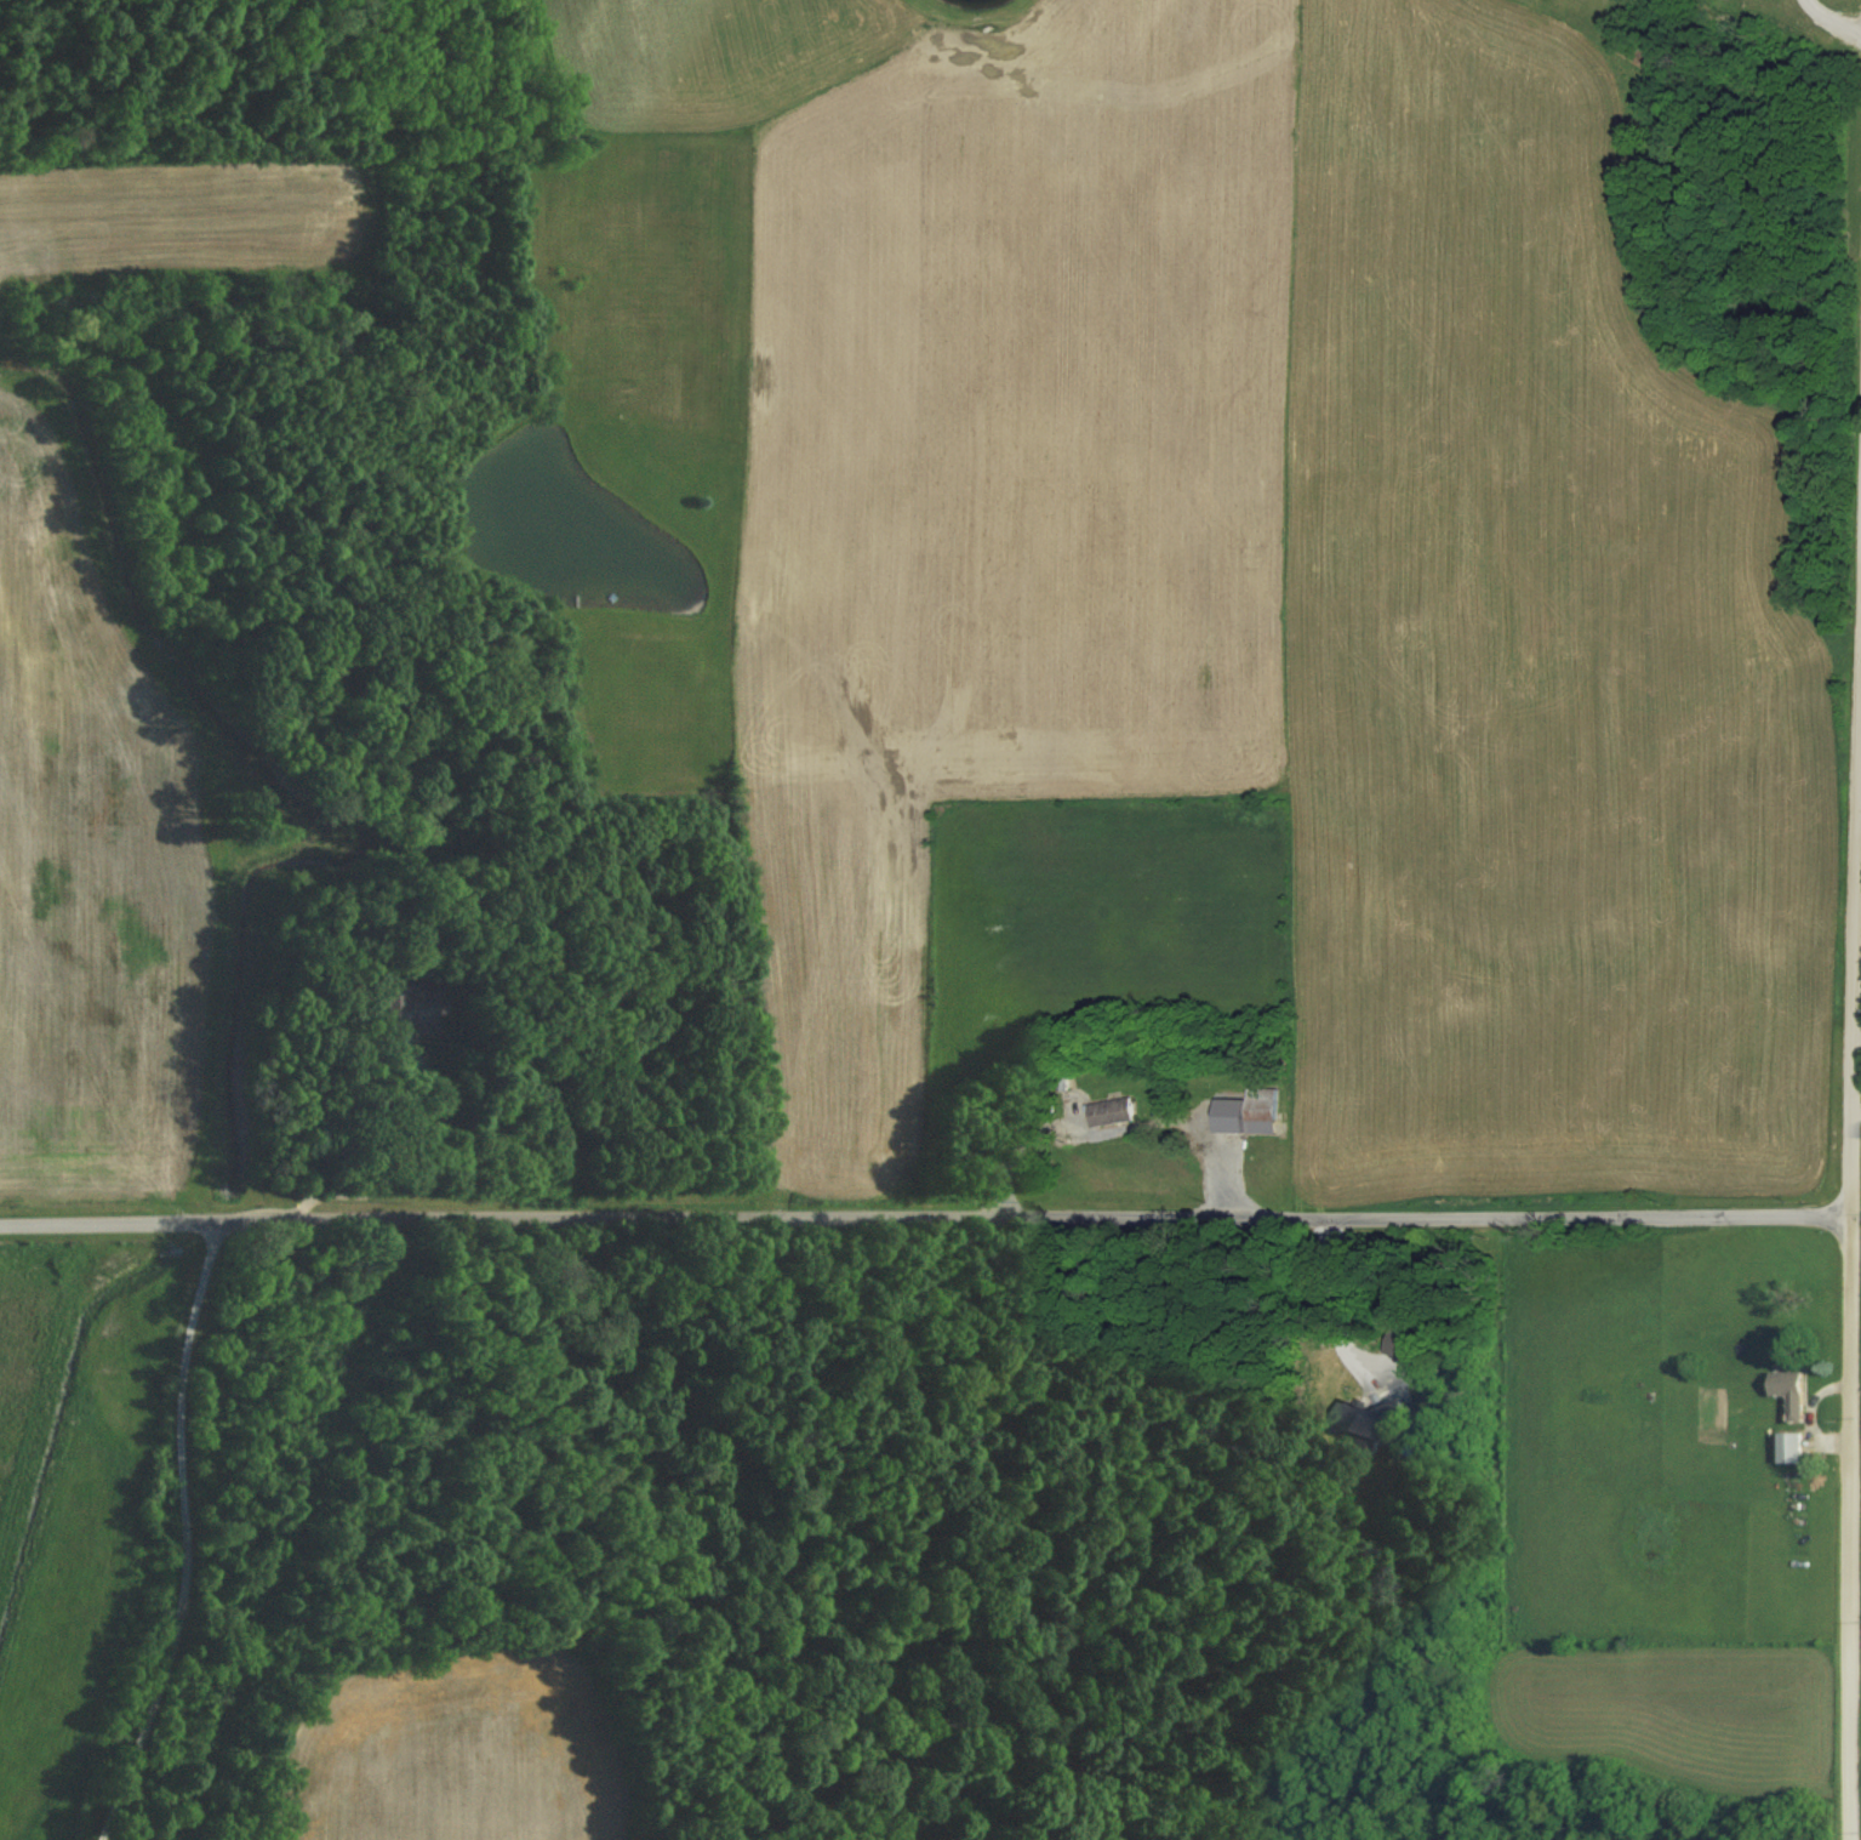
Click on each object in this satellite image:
road: (1836, 13)
building: (412, 1013)
building: (1261, 1105)
building: (1111, 1113)
road: (387, 1168)
road: (924, 1218)
road: (1850, 1263)
road: (1334, 1305)
building: (1789, 1394)
building: (1791, 1449)
road: (188, 1534)

